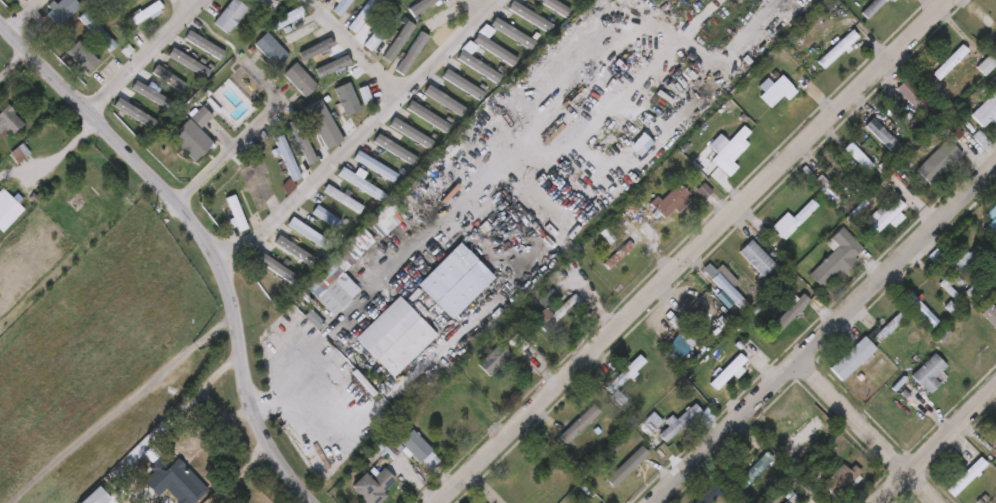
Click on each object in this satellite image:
building: (12, 0)
building: (580, 0)
building: (892, 1)
building: (117, 3)
building: (268, 3)
road: (182, 5)
building: (342, 6)
building: (423, 6)
building: (557, 6)
building: (872, 7)
road: (474, 9)
building: (60, 10)
building: (145, 12)
building: (994, 14)
building: (229, 15)
building: (528, 15)
building: (364, 16)
building: (287, 18)
building: (994, 18)
building: (382, 30)
building: (98, 31)
building: (270, 48)
building: (838, 48)
building: (496, 50)
road: (353, 51)
building: (410, 53)
building: (84, 56)
road: (144, 58)
building: (947, 62)
road: (11, 63)
building: (478, 65)
building: (987, 67)
building: (169, 77)
building: (299, 79)
building: (460, 83)
building: (778, 91)
building: (918, 100)
road: (401, 101)
building: (986, 111)
building: (138, 116)
building: (429, 116)
building: (9, 121)
building: (323, 124)
road: (248, 131)
building: (408, 134)
building: (881, 134)
building: (190, 140)
building: (731, 152)
building: (20, 155)
building: (942, 155)
building: (858, 156)
building: (285, 165)
building: (375, 167)
building: (359, 184)
building: (257, 188)
building: (829, 191)
building: (342, 198)
building: (669, 201)
building: (9, 209)
building: (234, 214)
building: (326, 219)
building: (386, 219)
building: (794, 220)
building: (993, 223)
building: (309, 232)
road: (260, 233)
road: (200, 239)
road: (700, 253)
building: (968, 257)
building: (758, 258)
building: (837, 258)
building: (275, 266)
building: (343, 273)
building: (738, 289)
building: (557, 313)
building: (990, 315)
building: (785, 317)
building: (888, 327)
building: (387, 329)
building: (682, 333)
road: (827, 334)
building: (518, 345)
building: (852, 358)
building: (494, 359)
road: (291, 370)
building: (929, 372)
building: (736, 374)
building: (624, 378)
building: (381, 387)
road: (301, 393)
building: (650, 402)
road: (118, 408)
road: (854, 417)
building: (456, 418)
building: (685, 420)
building: (649, 424)
building: (581, 426)
building: (993, 439)
building: (389, 444)
road: (936, 445)
building: (416, 448)
building: (627, 466)
building: (814, 467)
building: (967, 476)
building: (842, 479)
building: (180, 480)
building: (375, 487)
building: (762, 487)
road: (921, 488)
building: (709, 494)
building: (92, 496)
building: (793, 500)

